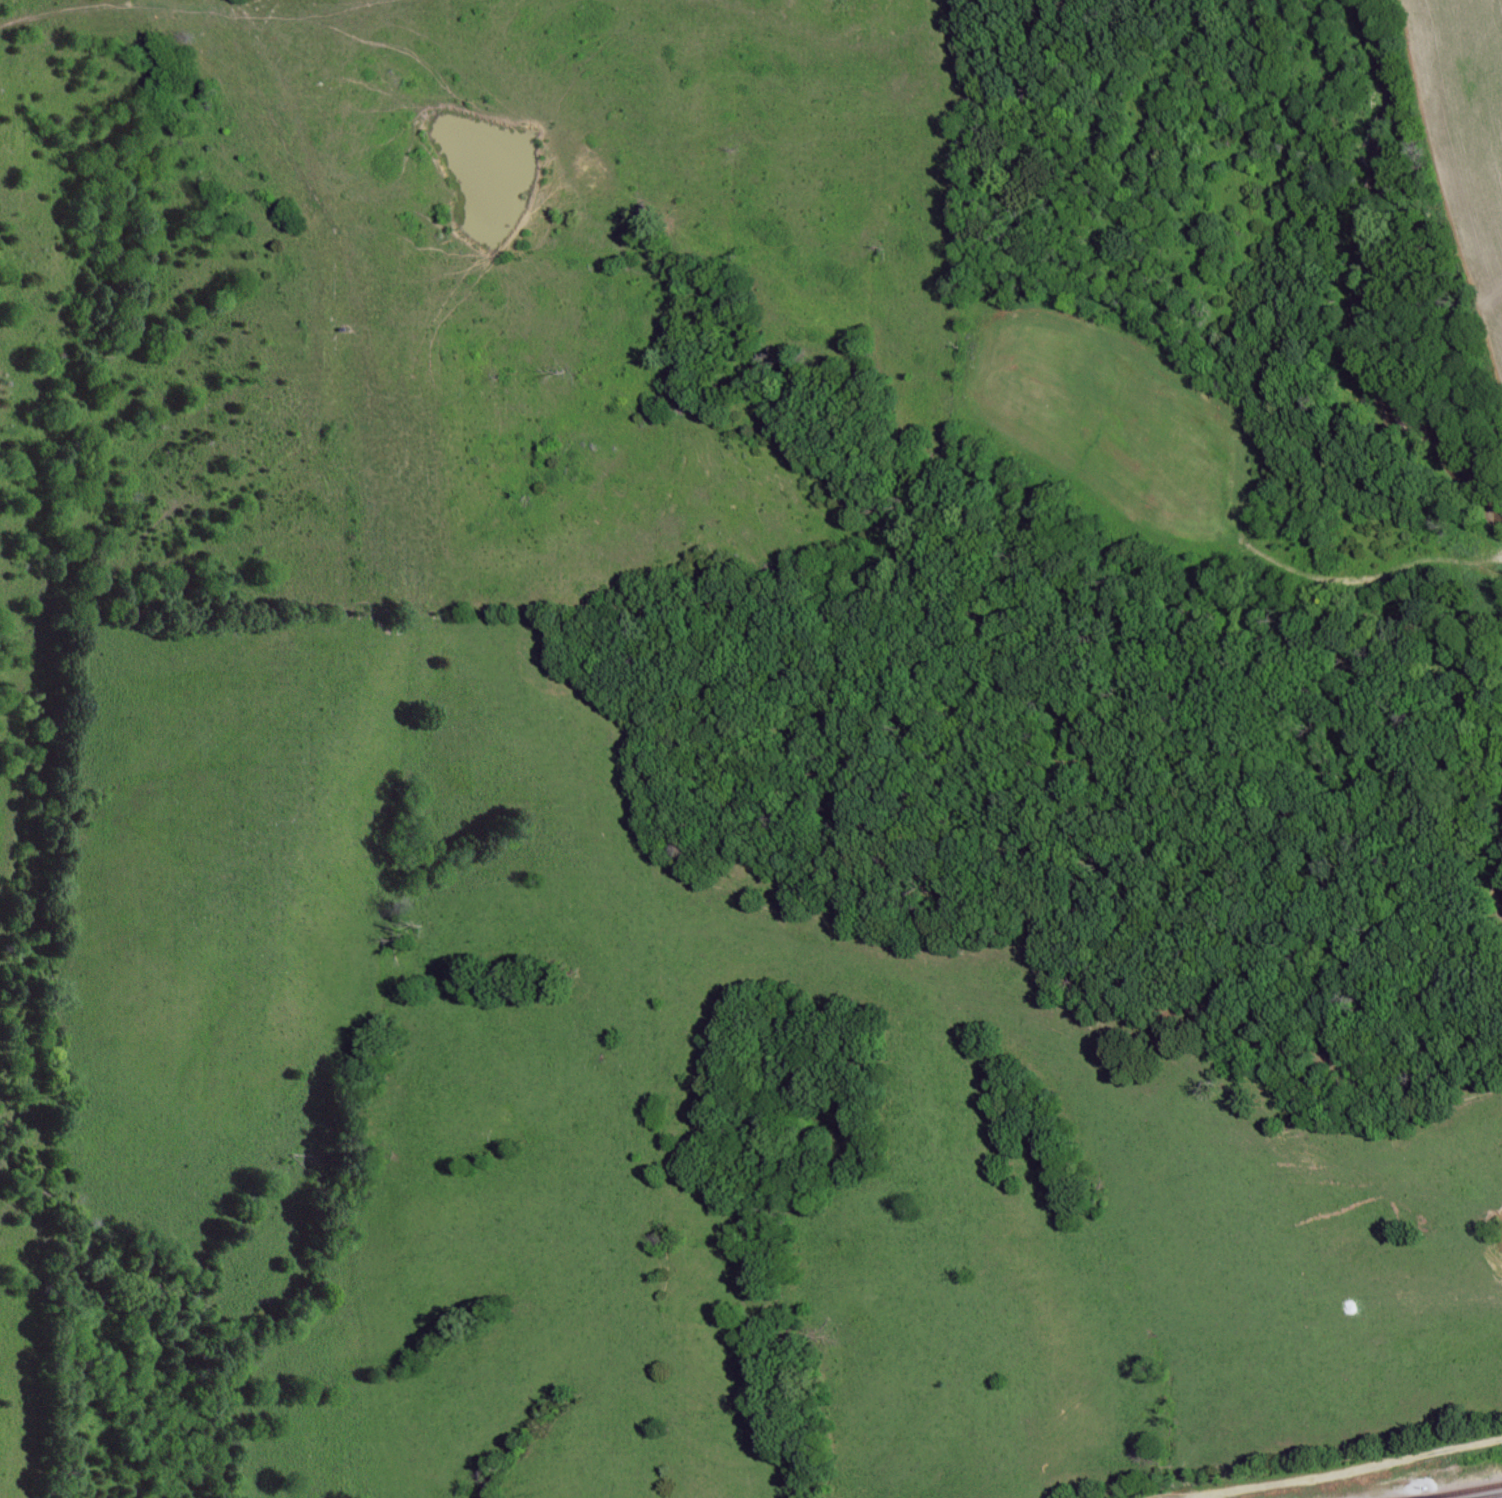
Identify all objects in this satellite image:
road: (1330, 1475)
railway: (1465, 1491)
road: (1192, 1496)
railway: (1493, 1496)

